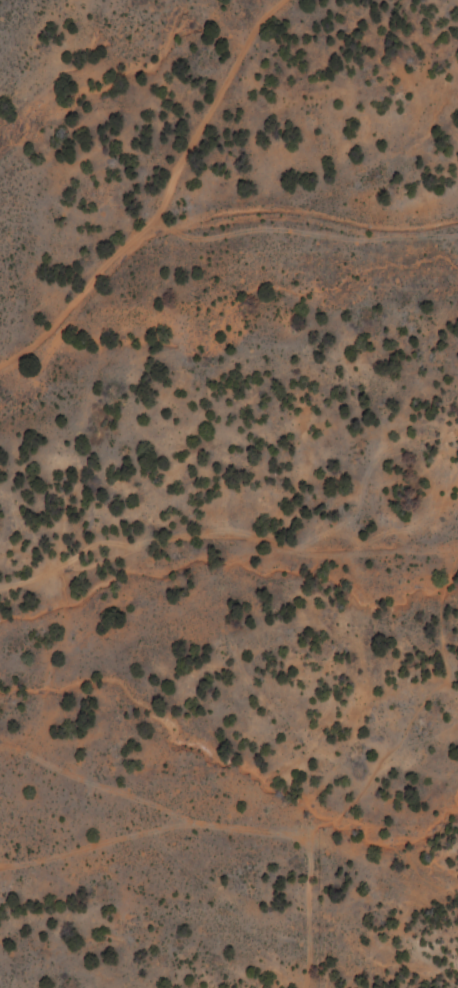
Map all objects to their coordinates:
road: (164, 202)

